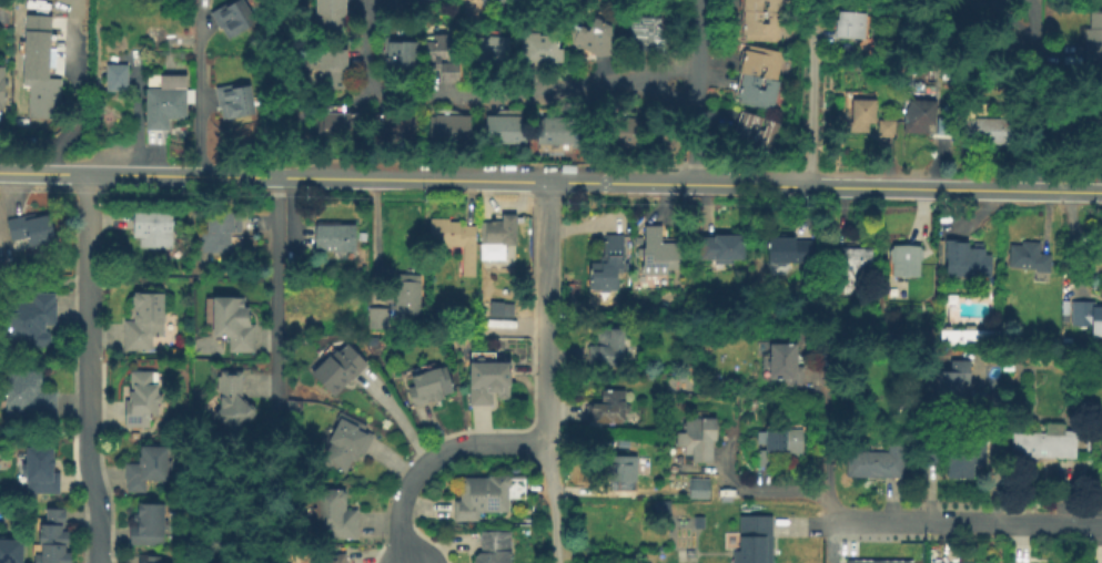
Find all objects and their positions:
building: (497, 3)
building: (232, 17)
building: (330, 18)
building: (761, 20)
building: (855, 25)
building: (650, 35)
building: (596, 38)
building: (1095, 39)
building: (543, 52)
building: (495, 53)
building: (404, 55)
building: (445, 58)
building: (37, 68)
building: (333, 70)
building: (761, 76)
building: (119, 79)
building: (2, 89)
road: (699, 92)
road: (481, 93)
road: (813, 93)
road: (1031, 95)
road: (198, 98)
building: (234, 100)
building: (168, 101)
building: (863, 117)
building: (1092, 117)
building: (923, 119)
building: (394, 126)
building: (341, 127)
building: (949, 127)
building: (989, 129)
building: (451, 130)
building: (558, 130)
building: (889, 130)
building: (505, 131)
building: (621, 131)
building: (759, 131)
building: (1099, 151)
road: (550, 183)
building: (33, 229)
building: (155, 231)
building: (221, 232)
building: (503, 232)
building: (453, 234)
building: (337, 238)
building: (1101, 242)
road: (90, 247)
building: (725, 249)
building: (789, 252)
building: (659, 254)
building: (1029, 257)
building: (909, 262)
building: (969, 263)
building: (609, 267)
building: (855, 268)
building: (410, 296)
road: (279, 297)
building: (498, 308)
road: (548, 313)
building: (1089, 315)
building: (380, 319)
building: (34, 321)
building: (146, 324)
building: (234, 325)
building: (968, 337)
building: (610, 348)
building: (949, 356)
building: (789, 367)
building: (342, 371)
building: (491, 379)
building: (956, 383)
building: (432, 389)
building: (29, 397)
building: (144, 401)
building: (234, 406)
building: (611, 409)
road: (829, 431)
building: (700, 440)
road: (88, 442)
road: (469, 443)
building: (347, 444)
building: (1047, 444)
building: (782, 446)
building: (1101, 447)
building: (958, 454)
building: (879, 462)
building: (151, 471)
building: (626, 472)
building: (41, 473)
building: (702, 489)
road: (758, 491)
building: (483, 499)
road: (554, 502)
building: (336, 515)
road: (965, 522)
road: (400, 524)
building: (155, 525)
building: (54, 539)
building: (757, 541)
building: (497, 549)
building: (11, 550)
building: (152, 560)
building: (337, 560)
building: (874, 561)

